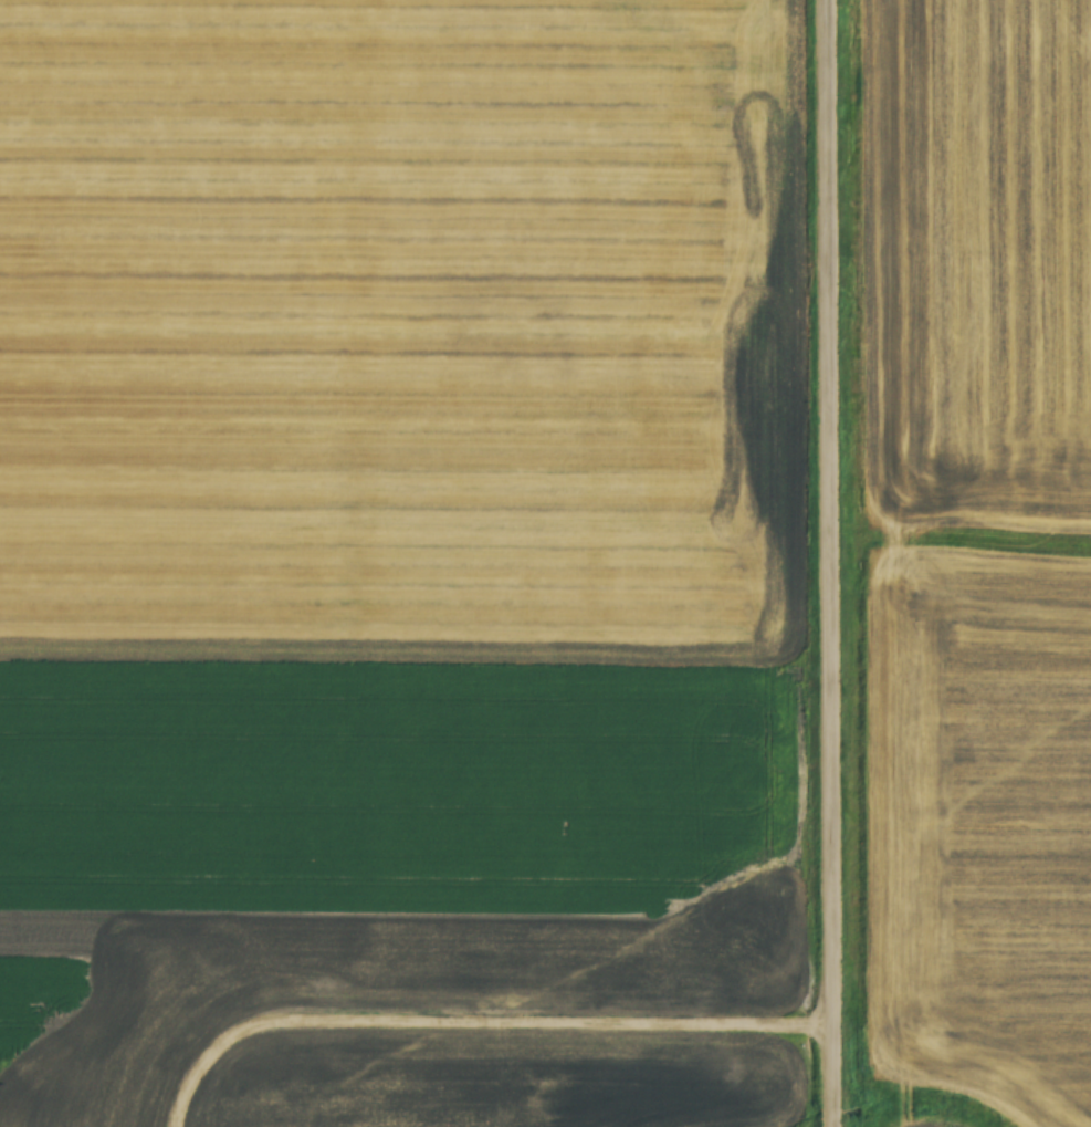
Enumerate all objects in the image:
road: (838, 563)

